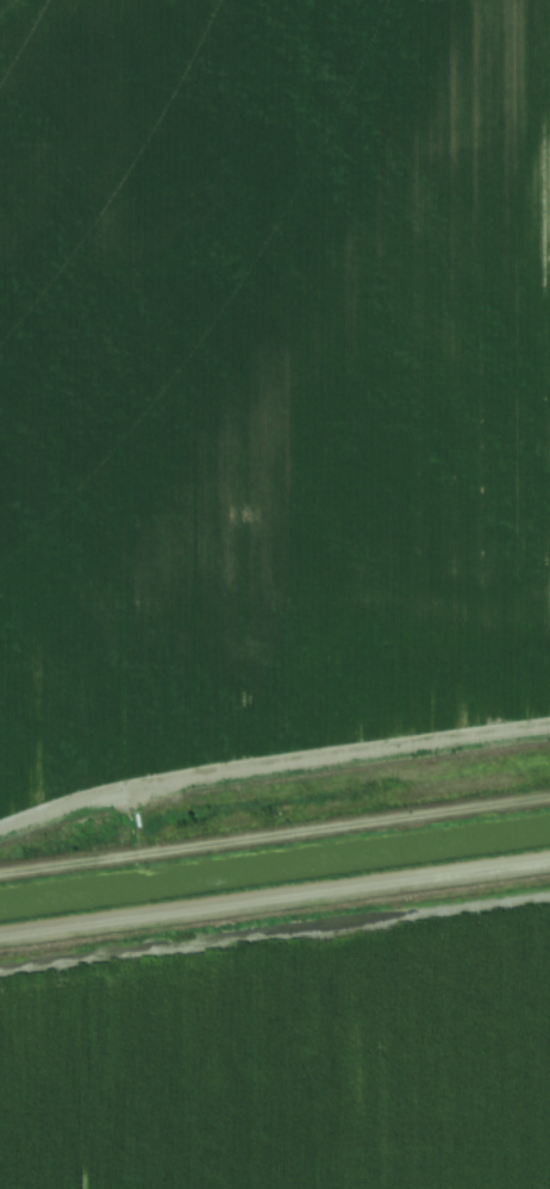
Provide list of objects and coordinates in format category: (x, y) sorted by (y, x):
road: (275, 897)
crop: (289, 1063)

